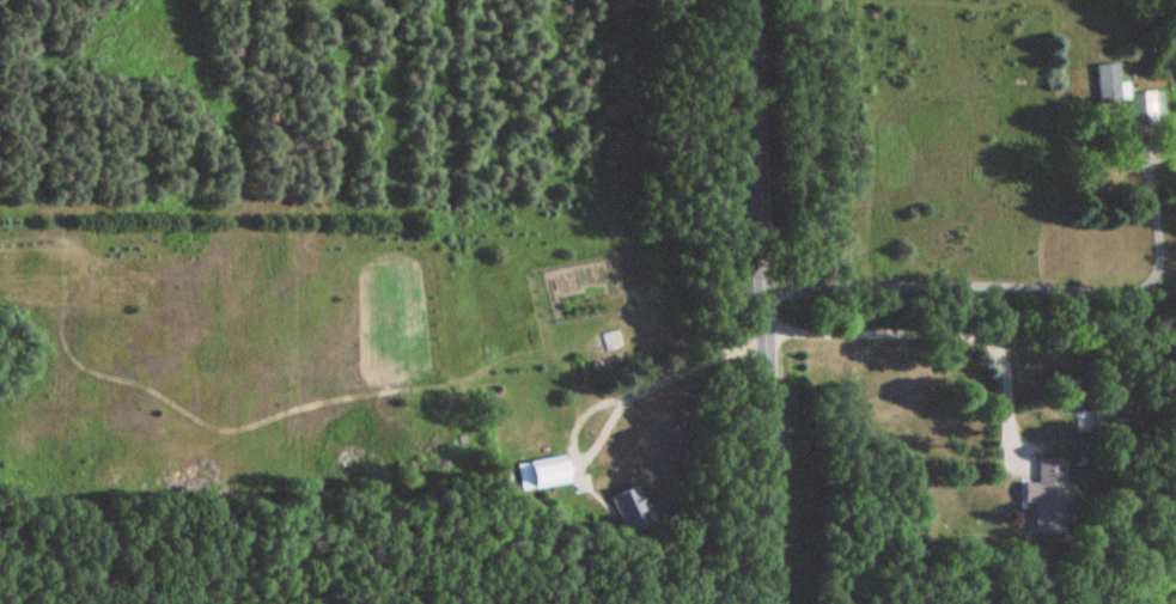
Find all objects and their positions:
building: (1109, 85)
building: (1145, 106)
road: (763, 301)
road: (970, 338)
building: (599, 344)
road: (620, 399)
road: (1001, 401)
building: (542, 474)
building: (1047, 496)
building: (628, 510)

